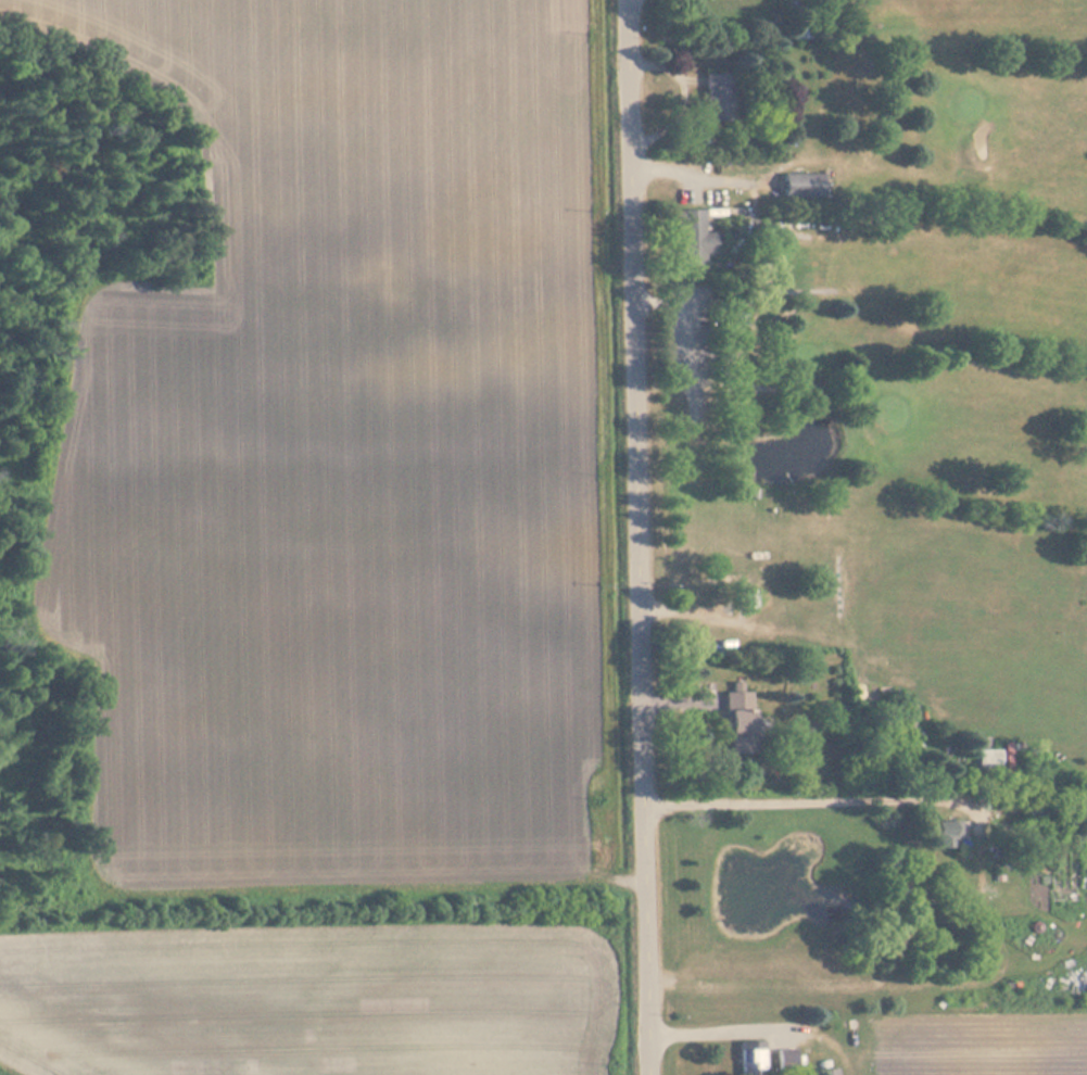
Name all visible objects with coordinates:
building: (801, 25)
building: (719, 99)
parking lot: (686, 178)
building: (804, 186)
building: (696, 239)
park: (887, 366)
road: (637, 536)
building: (740, 724)
building: (990, 761)
building: (948, 835)
building: (1066, 876)
road: (321, 886)
building: (753, 1059)
building: (788, 1062)
building: (830, 1072)

